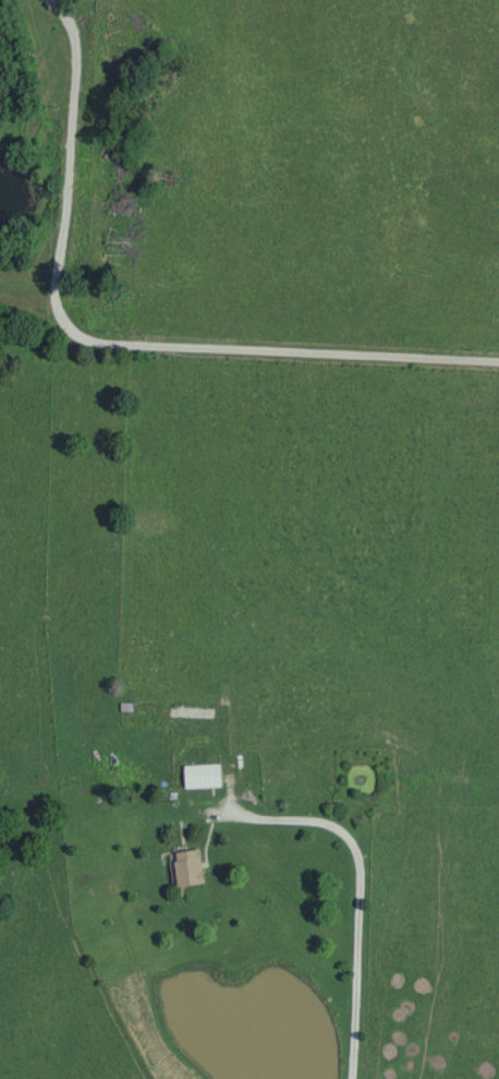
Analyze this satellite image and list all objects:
road: (108, 344)
building: (205, 775)
road: (351, 860)
building: (188, 866)

